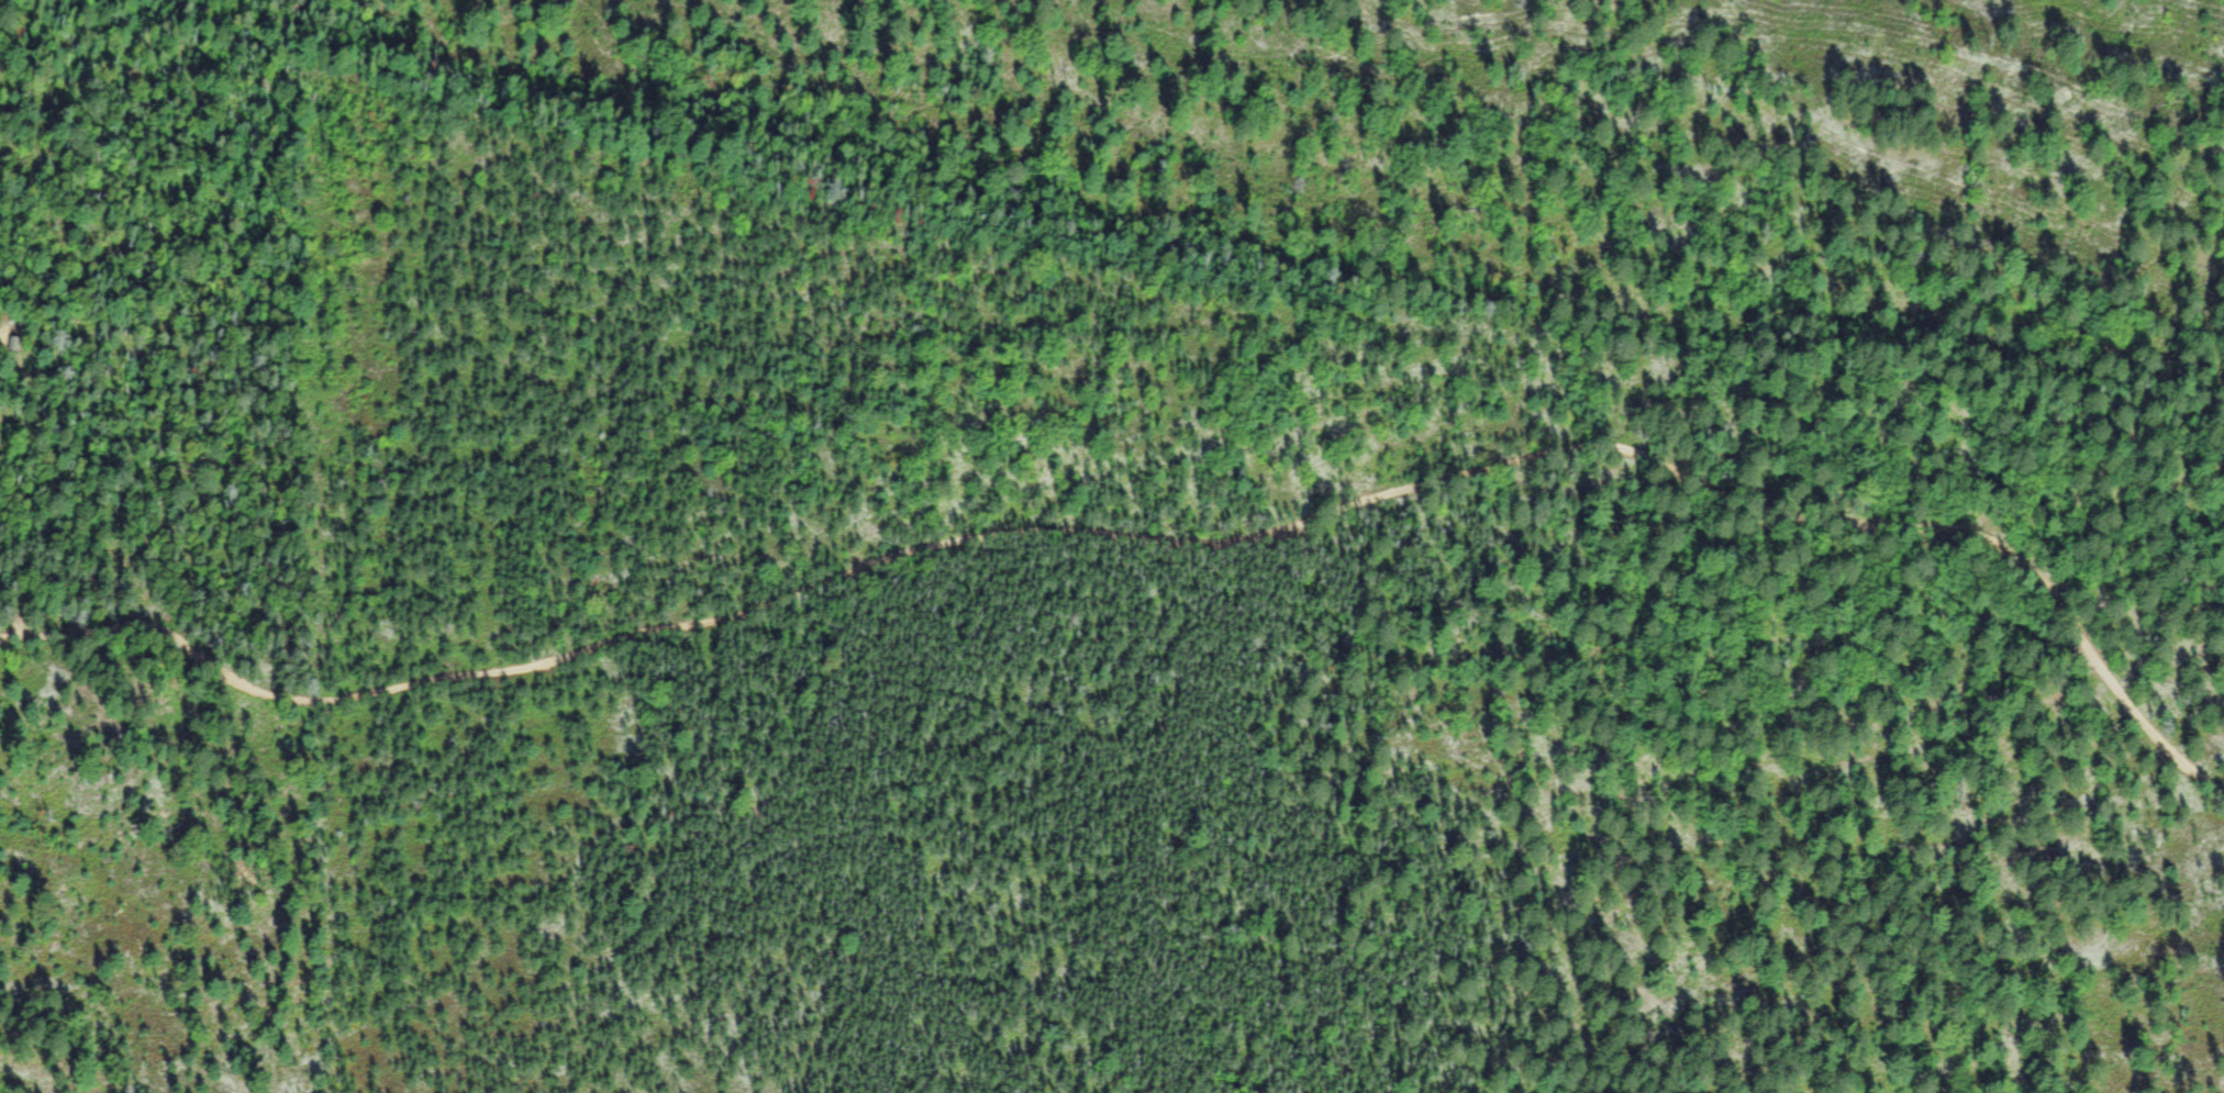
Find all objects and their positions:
building: (14, 346)
road: (2025, 555)
road: (859, 571)

